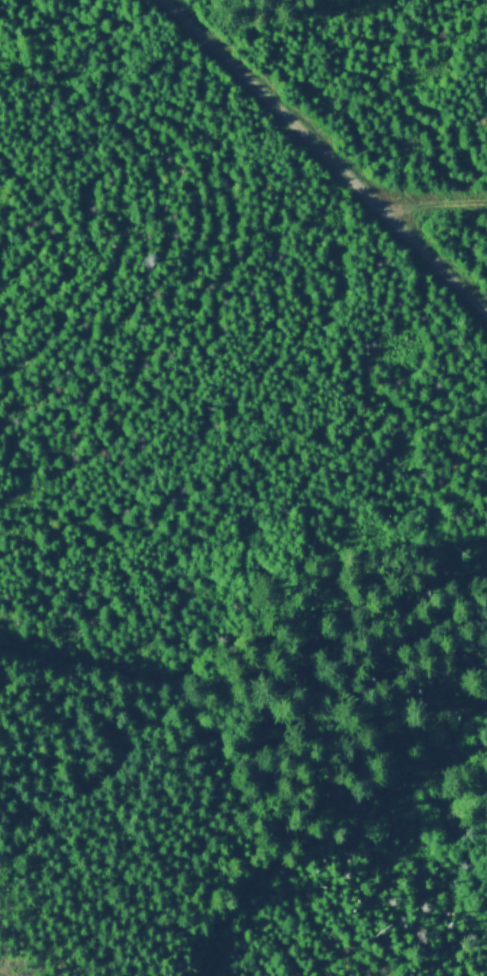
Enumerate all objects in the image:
road: (352, 130)

